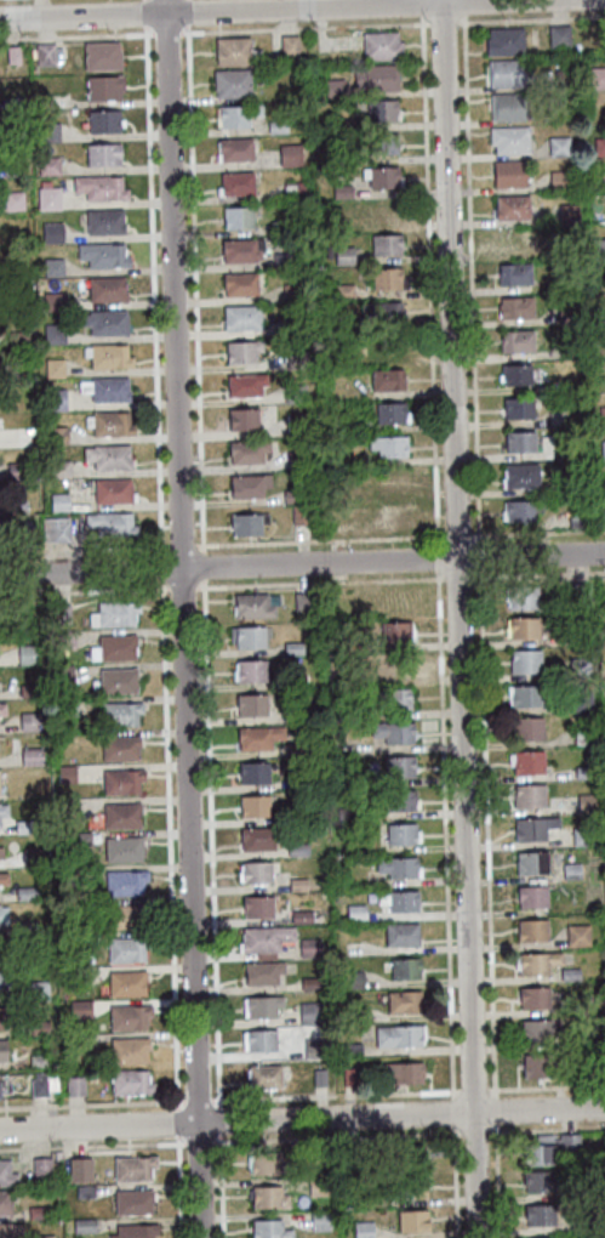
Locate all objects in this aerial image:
road: (144, 0)
road: (165, 7)
road: (422, 8)
road: (464, 8)
road: (274, 10)
road: (188, 13)
road: (145, 15)
road: (530, 22)
road: (444, 25)
road: (306, 30)
road: (167, 35)
building: (559, 35)
road: (76, 38)
building: (504, 40)
building: (289, 44)
building: (381, 45)
building: (235, 50)
building: (45, 53)
building: (12, 55)
building: (101, 55)
building: (506, 72)
building: (597, 76)
building: (376, 78)
building: (232, 81)
building: (103, 86)
building: (333, 89)
building: (11, 103)
building: (506, 106)
building: (381, 109)
building: (236, 115)
building: (103, 121)
building: (339, 125)
building: (276, 126)
building: (47, 132)
building: (13, 136)
building: (509, 138)
building: (381, 143)
building: (599, 144)
building: (558, 146)
building: (235, 148)
building: (102, 154)
building: (289, 154)
building: (47, 165)
building: (12, 169)
building: (508, 174)
building: (381, 177)
building: (600, 178)
building: (559, 180)
building: (236, 182)
building: (99, 187)
building: (293, 191)
building: (341, 191)
building: (47, 198)
building: (12, 200)
building: (510, 206)
building: (379, 210)
building: (567, 212)
building: (236, 217)
building: (103, 221)
building: (339, 221)
building: (280, 226)
building: (51, 232)
building: (512, 240)
building: (386, 245)
building: (600, 248)
building: (240, 249)
building: (102, 255)
building: (343, 255)
building: (281, 259)
building: (52, 266)
building: (513, 274)
building: (386, 278)
road: (429, 280)
road: (472, 282)
building: (239, 283)
building: (105, 289)
road: (195, 290)
building: (343, 290)
building: (292, 291)
road: (153, 293)
building: (53, 300)
building: (515, 308)
building: (382, 313)
building: (603, 313)
building: (567, 314)
building: (241, 317)
building: (104, 322)
building: (53, 334)
building: (16, 337)
building: (516, 341)
building: (388, 346)
building: (241, 350)
building: (570, 350)
building: (107, 356)
building: (295, 359)
building: (53, 368)
building: (515, 374)
building: (387, 380)
building: (244, 384)
building: (105, 388)
building: (295, 392)
building: (55, 399)
building: (518, 408)
building: (390, 413)
building: (601, 414)
building: (242, 419)
building: (557, 419)
building: (109, 422)
building: (297, 425)
building: (359, 426)
building: (56, 436)
building: (35, 438)
building: (520, 441)
building: (387, 445)
building: (603, 448)
building: (247, 450)
building: (107, 456)
building: (297, 459)
building: (58, 468)
building: (16, 471)
building: (521, 475)
building: (390, 479)
building: (566, 482)
building: (604, 482)
building: (249, 484)
building: (113, 490)
building: (350, 493)
building: (292, 495)
building: (58, 501)
building: (16, 506)
building: (520, 509)
building: (299, 513)
building: (395, 515)
building: (603, 515)
building: (577, 517)
building: (110, 523)
building: (246, 523)
building: (55, 529)
building: (22, 533)
road: (537, 534)
road: (458, 538)
road: (320, 543)
road: (182, 549)
road: (82, 552)
road: (480, 558)
road: (439, 560)
road: (302, 564)
road: (204, 569)
road: (161, 570)
road: (540, 577)
road: (460, 580)
road: (321, 585)
road: (182, 590)
building: (580, 592)
road: (82, 594)
building: (526, 598)
building: (303, 601)
building: (252, 604)
building: (28, 611)
building: (59, 613)
building: (114, 613)
road: (458, 619)
road: (182, 626)
building: (523, 626)
building: (394, 631)
building: (576, 634)
building: (249, 636)
building: (63, 640)
building: (114, 648)
building: (292, 648)
building: (27, 654)
building: (525, 661)
building: (393, 666)
building: (580, 666)
building: (251, 670)
building: (63, 674)
building: (339, 676)
building: (118, 680)
building: (295, 680)
building: (28, 691)
building: (524, 695)
building: (392, 698)
building: (581, 700)
building: (251, 704)
building: (67, 706)
building: (1, 708)
building: (339, 711)
building: (119, 712)
building: (296, 715)
building: (28, 721)
building: (527, 728)
building: (393, 731)
building: (258, 736)
building: (583, 736)
building: (342, 745)
building: (120, 748)
building: (296, 748)
building: (32, 756)
building: (526, 761)
building: (399, 766)
building: (253, 772)
building: (583, 772)
building: (65, 773)
building: (121, 780)
building: (344, 780)
building: (295, 782)
building: (0, 783)
building: (529, 795)
building: (399, 800)
building: (586, 802)
building: (253, 806)
building: (2, 810)
building: (68, 810)
building: (295, 813)
building: (346, 813)
building: (120, 814)
building: (23, 825)
building: (532, 828)
building: (400, 834)
road: (487, 835)
building: (582, 835)
building: (257, 837)
road: (445, 837)
building: (78, 839)
road: (212, 847)
building: (122, 848)
road: (170, 848)
building: (297, 848)
building: (0, 853)
building: (32, 857)
building: (531, 862)
building: (396, 867)
building: (571, 870)
building: (256, 871)
building: (68, 875)
building: (4, 878)
building: (124, 881)
building: (297, 884)
building: (24, 892)
building: (531, 896)
building: (403, 901)
building: (69, 907)
building: (257, 907)
building: (355, 912)
building: (2, 914)
building: (124, 915)
building: (301, 916)
building: (25, 927)
building: (532, 930)
building: (401, 933)
building: (577, 935)
building: (264, 937)
building: (4, 942)
building: (70, 942)
building: (308, 947)
building: (126, 949)
building: (264, 955)
building: (28, 960)
building: (537, 961)
building: (405, 967)
building: (262, 971)
building: (79, 973)
building: (570, 973)
building: (353, 979)
building: (5, 981)
building: (125, 983)
building: (309, 983)
building: (36, 990)
building: (533, 998)
building: (404, 1001)
building: (578, 1004)
building: (262, 1005)
building: (79, 1009)
building: (309, 1012)
building: (359, 1013)
building: (4, 1015)
building: (127, 1016)
building: (38, 1027)
building: (536, 1030)
building: (398, 1035)
building: (73, 1040)
building: (261, 1040)
building: (598, 1043)
building: (313, 1047)
building: (350, 1049)
building: (2, 1050)
building: (129, 1050)
building: (36, 1060)
building: (538, 1064)
building: (407, 1072)
building: (263, 1075)
building: (348, 1077)
building: (319, 1078)
building: (130, 1081)
building: (74, 1085)
building: (0, 1087)
building: (38, 1087)
road: (547, 1090)
road: (474, 1092)
road: (336, 1098)
road: (199, 1103)
road: (92, 1107)
road: (496, 1113)
road: (452, 1114)
road: (302, 1119)
road: (221, 1123)
road: (177, 1124)
road: (547, 1130)
road: (473, 1132)
road: (336, 1138)
building: (569, 1143)
road: (200, 1145)
road: (92, 1148)
building: (538, 1151)
building: (316, 1154)
building: (352, 1154)
building: (407, 1155)
building: (264, 1163)
building: (40, 1166)
building: (132, 1168)
building: (80, 1169)
building: (6, 1174)
building: (64, 1177)
building: (537, 1181)
road: (453, 1182)
road: (497, 1182)
building: (318, 1186)
road: (179, 1187)
road: (222, 1187)
building: (410, 1187)
building: (85, 1191)
building: (268, 1197)
building: (4, 1202)
building: (132, 1202)
building: (36, 1211)
building: (538, 1214)
building: (319, 1220)
building: (411, 1220)
building: (592, 1222)
building: (82, 1225)
building: (361, 1228)
building: (7, 1230)
building: (269, 1230)
building: (133, 1231)
building: (42, 1237)

